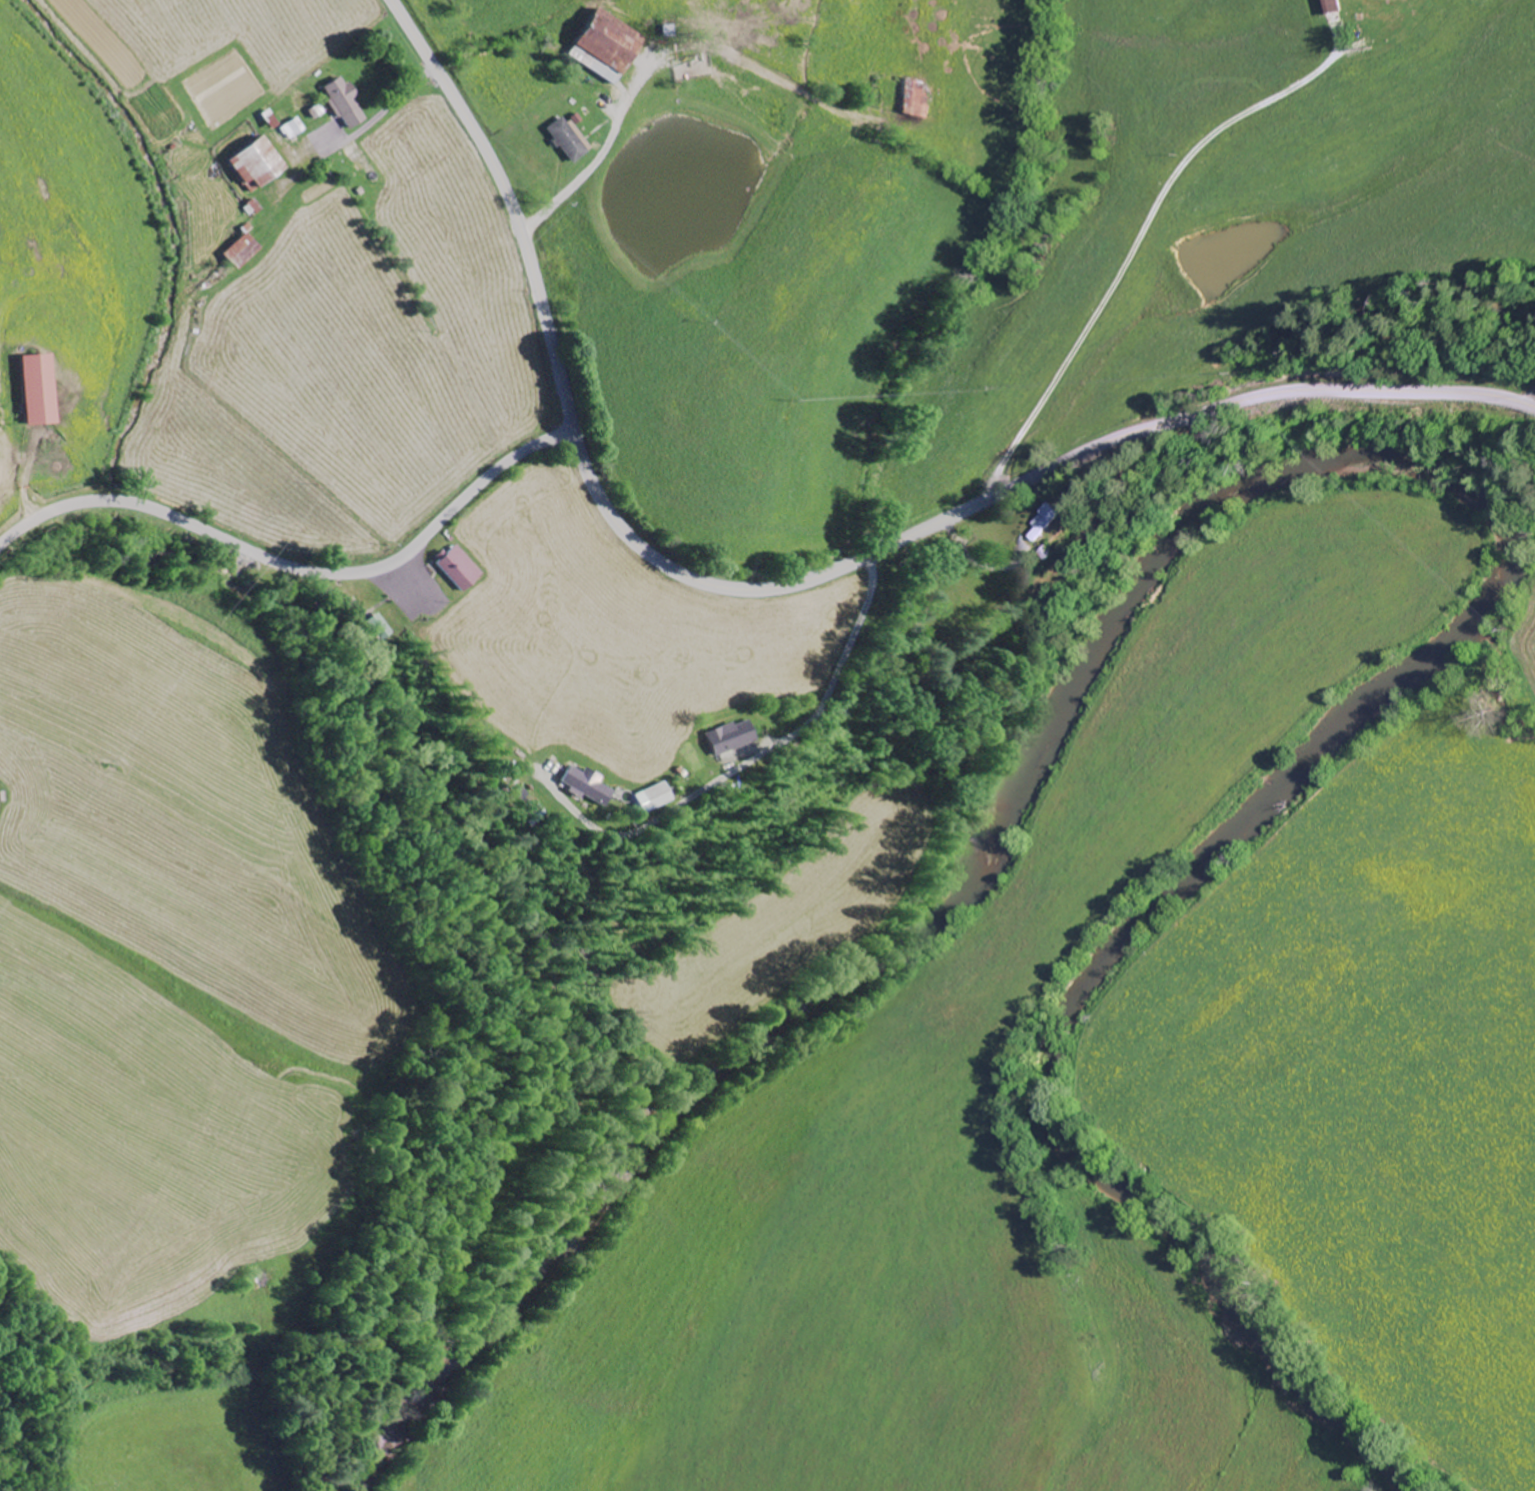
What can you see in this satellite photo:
building: (1333, 7)
building: (602, 48)
building: (916, 101)
building: (343, 104)
building: (292, 130)
building: (564, 142)
building: (255, 166)
building: (239, 252)
building: (42, 392)
river: (1366, 453)
building: (1052, 524)
road: (297, 567)
building: (458, 570)
road: (799, 580)
building: (729, 738)
road: (752, 760)
building: (585, 786)
building: (651, 798)

